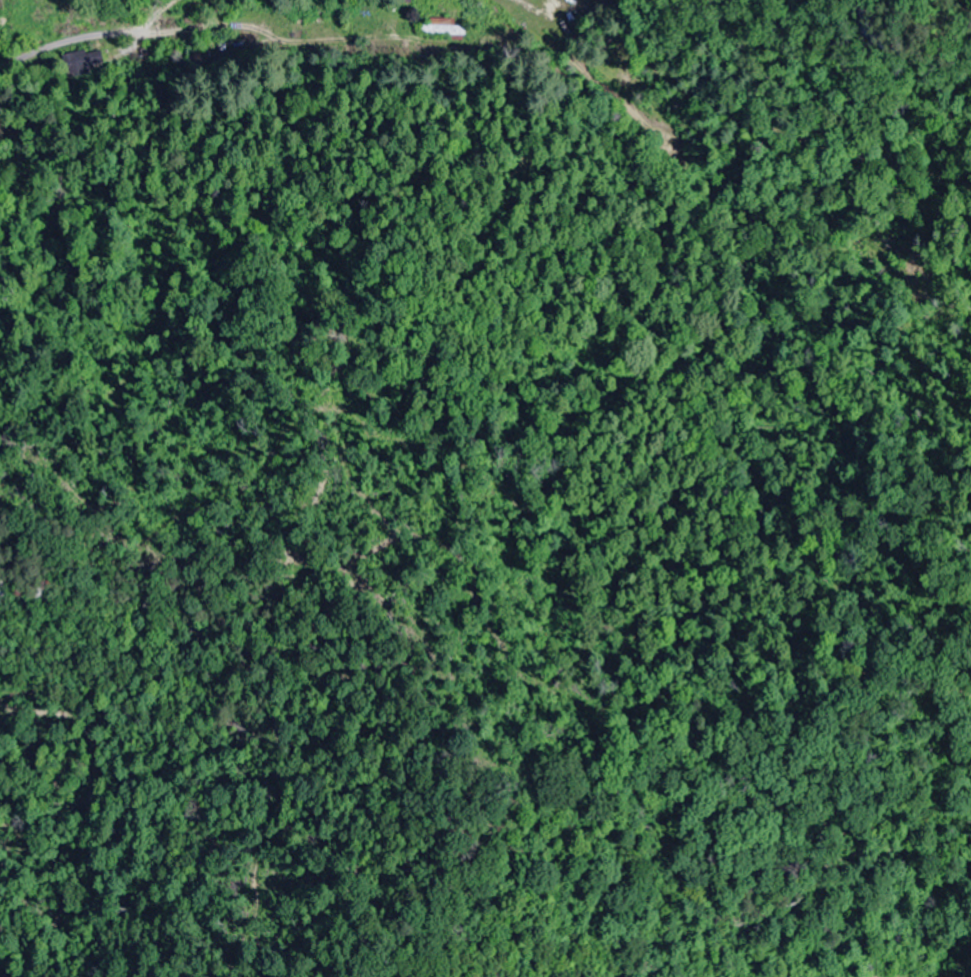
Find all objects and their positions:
building: (311, 24)
building: (443, 27)
road: (59, 43)
building: (83, 63)

